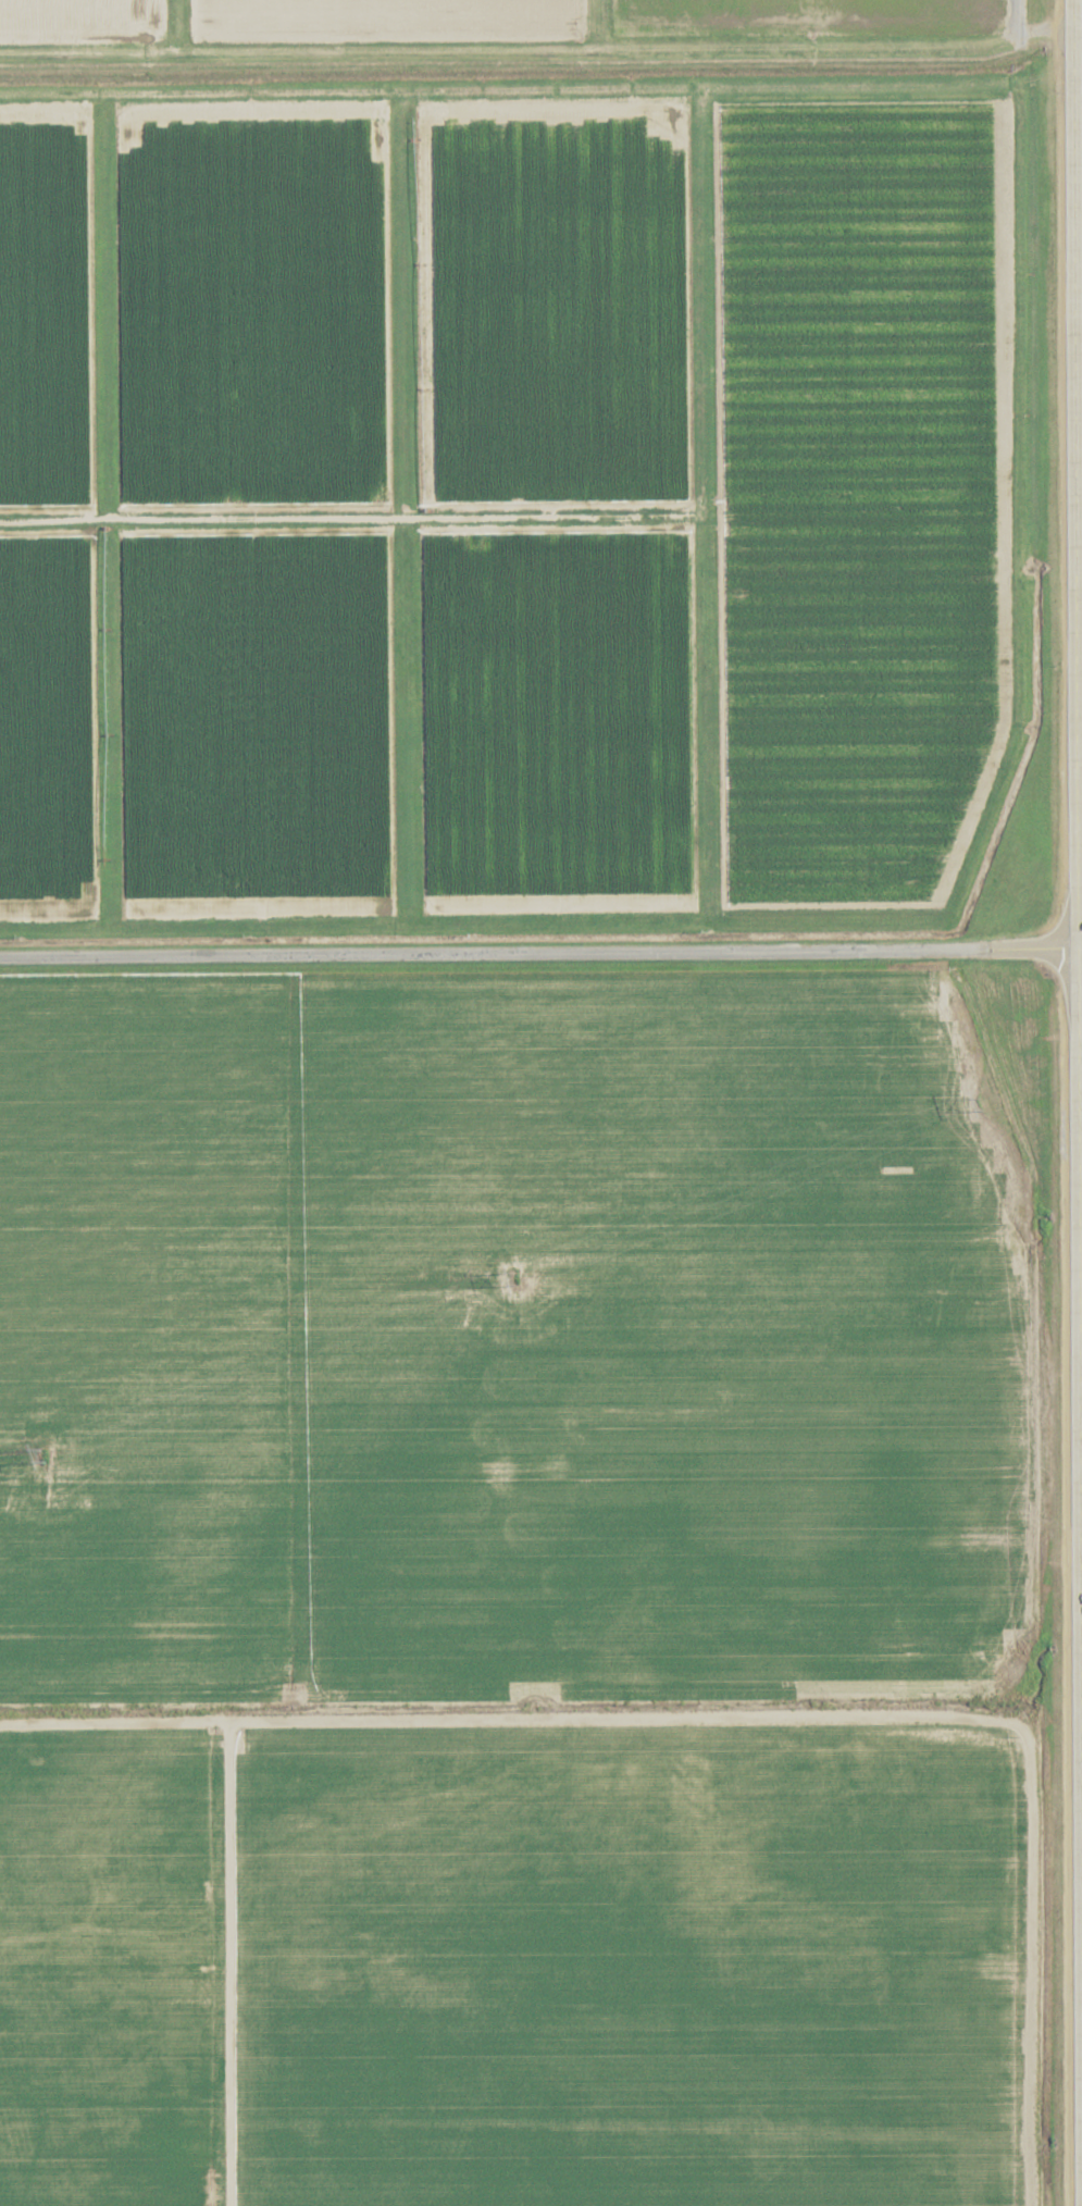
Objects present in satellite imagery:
road: (540, 951)
power tower: (982, 1099)
road: (1077, 1102)
power tower: (517, 1277)
power tower: (43, 1455)
road: (548, 2119)

